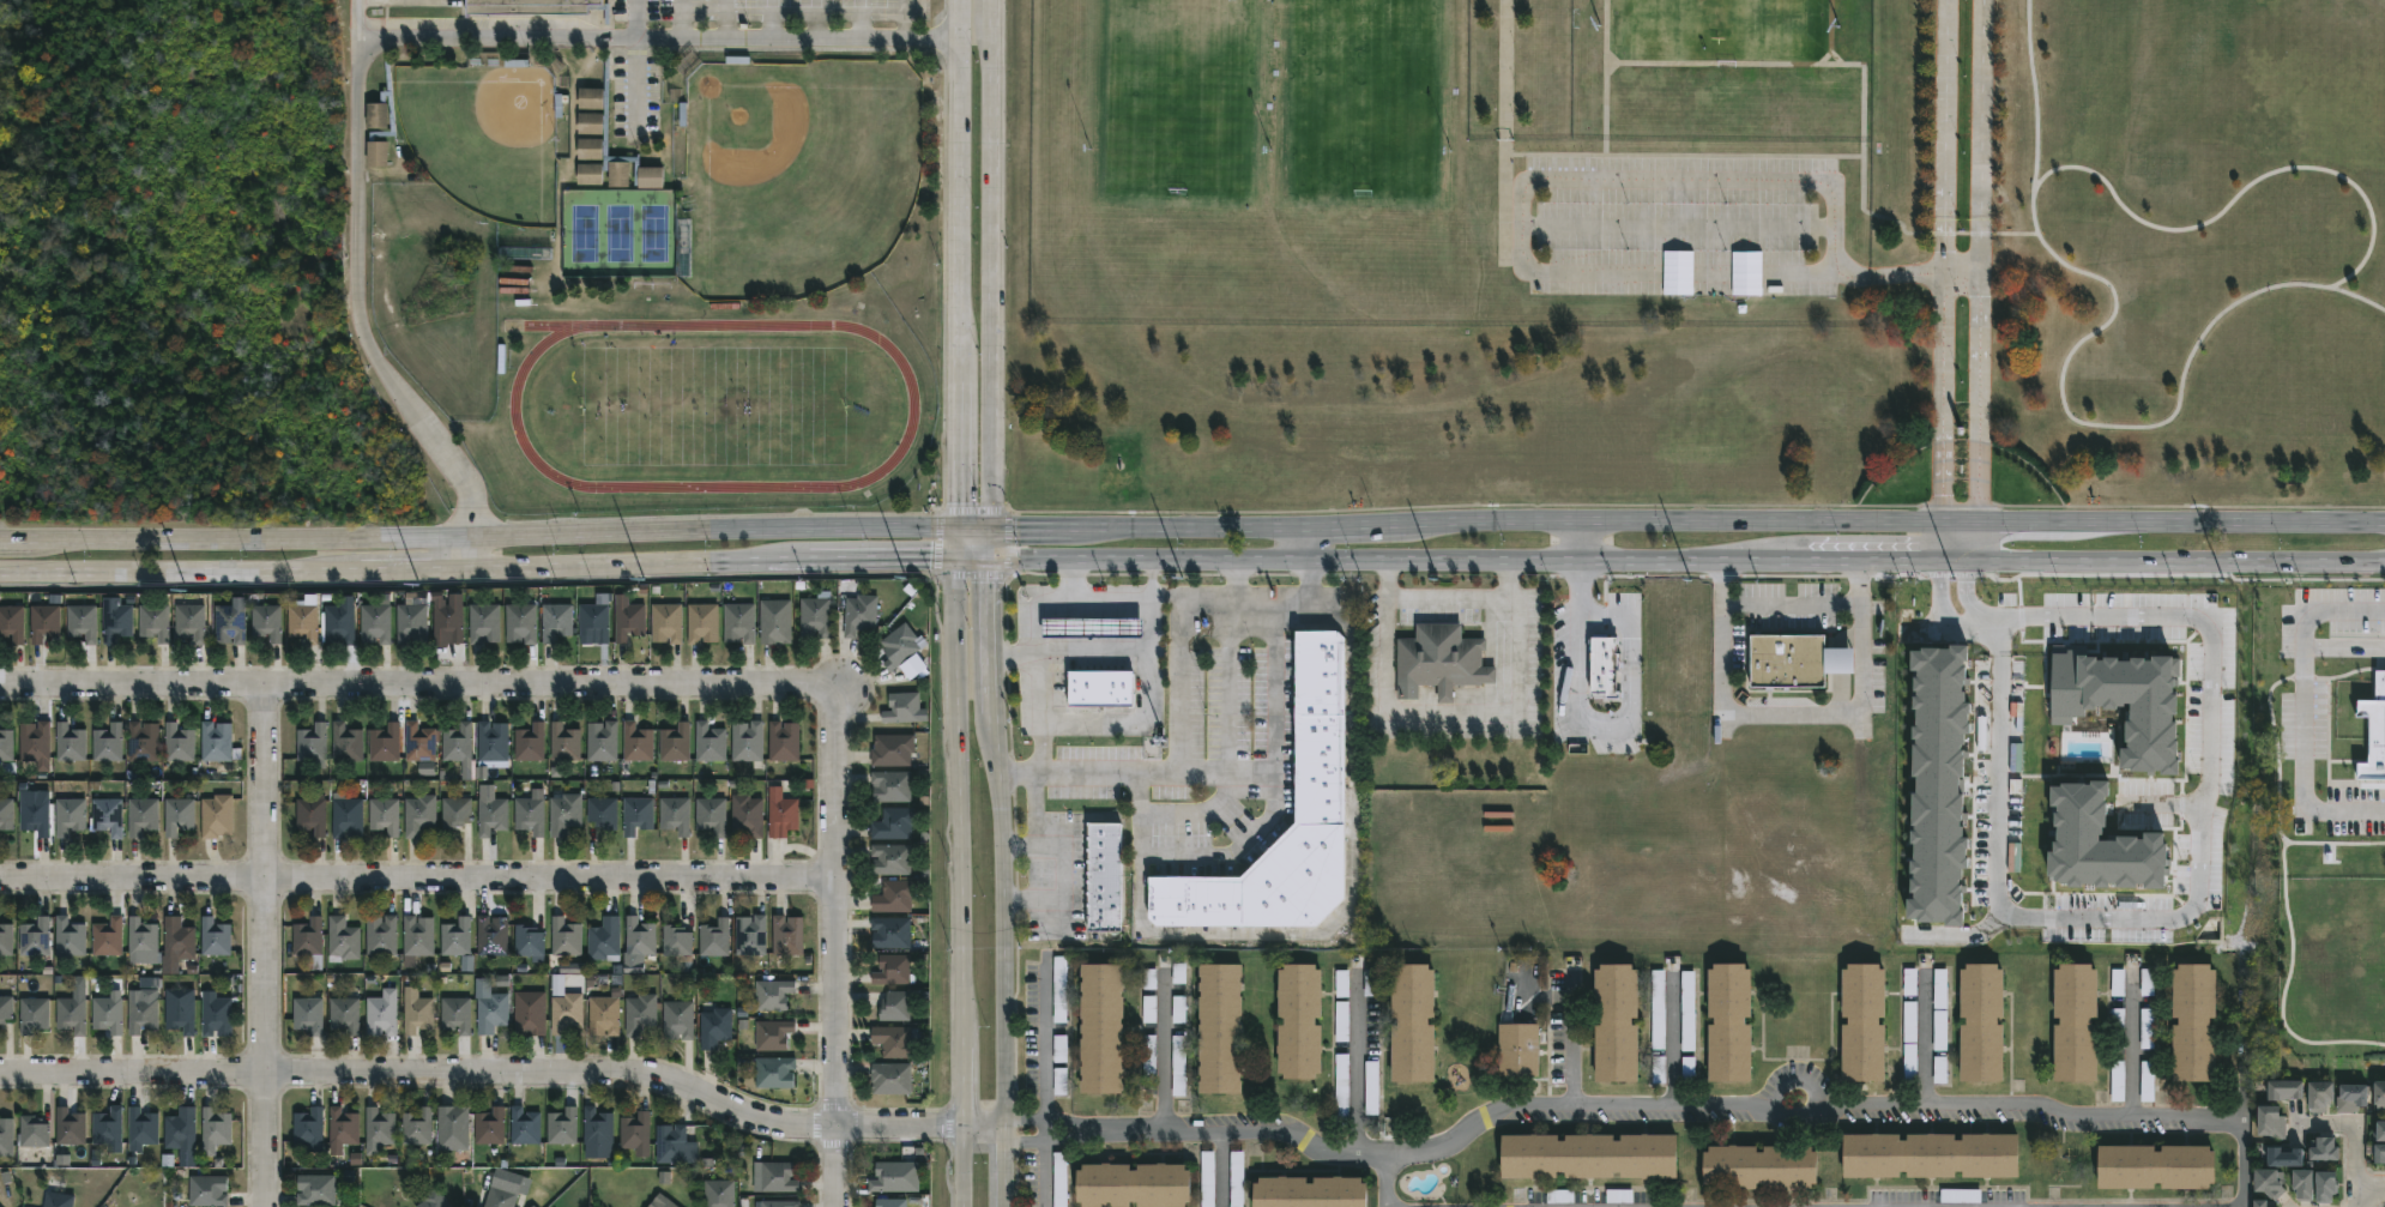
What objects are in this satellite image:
building: (535, 6)
parking lot: (774, 7)
road: (363, 16)
road: (642, 17)
road: (689, 17)
road: (736, 17)
road: (779, 18)
road: (817, 18)
road: (864, 18)
road: (908, 18)
park: (1717, 25)
road: (376, 32)
road: (1837, 59)
road: (1719, 65)
road: (1612, 70)
road: (1605, 95)
park: (1359, 96)
park: (1182, 97)
building: (591, 99)
building: (376, 121)
building: (590, 125)
road: (1504, 126)
park: (485, 137)
road: (2036, 144)
road: (1605, 145)
building: (376, 156)
road: (1849, 156)
building: (612, 170)
park: (797, 173)
road: (1861, 177)
road: (1716, 180)
road: (2238, 195)
parking lot: (1679, 223)
road: (1669, 225)
park: (620, 233)
road: (958, 262)
road: (989, 262)
road: (1739, 276)
road: (1943, 279)
road: (1979, 279)
park: (712, 410)
road: (2142, 428)
track: (874, 476)
road: (1696, 503)
road: (973, 509)
road: (1685, 519)
traffic signals: (956, 526)
road: (972, 526)
traffic signals: (988, 526)
road: (478, 535)
road: (1578, 538)
road: (935, 541)
road: (956, 542)
road: (988, 542)
road: (1006, 542)
road: (1305, 542)
traffic signals: (956, 557)
road: (972, 557)
traffic signals: (989, 557)
road: (1030, 557)
road: (1727, 559)
road: (478, 567)
road: (970, 574)
road: (1580, 587)
road: (1129, 595)
road: (1978, 596)
road: (1257, 597)
road: (1949, 602)
road: (1051, 603)
road: (1792, 604)
road: (989, 605)
building: (815, 614)
building: (859, 614)
building: (412, 618)
building: (303, 620)
building: (116, 621)
building: (153, 621)
building: (339, 621)
building: (375, 621)
building: (448, 621)
building: (556, 621)
building: (594, 621)
building: (629, 621)
building: (775, 621)
building: (12, 622)
building: (44, 622)
building: (81, 622)
building: (191, 622)
building: (266, 622)
building: (484, 622)
building: (666, 622)
building: (701, 622)
building: (738, 622)
building: (228, 623)
building: (520, 623)
building: (1093, 626)
gas station: (1093, 626)
road: (1387, 630)
building: (899, 645)
road: (1111, 648)
building: (1799, 659)
building: (1442, 660)
road: (417, 686)
road: (989, 686)
building: (1100, 688)
road: (1521, 700)
building: (901, 707)
road: (2312, 708)
road: (1039, 711)
road: (1791, 716)
road: (1628, 718)
road: (1128, 720)
building: (1321, 729)
building: (602, 740)
building: (783, 740)
building: (34, 741)
building: (143, 741)
building: (216, 741)
building: (493, 741)
building: (710, 741)
building: (747, 741)
road: (1227, 741)
building: (70, 742)
building: (179, 742)
building: (346, 742)
building: (418, 742)
building: (529, 742)
building: (563, 742)
building: (636, 742)
building: (675, 742)
building: (107, 743)
building: (313, 743)
building: (384, 743)
building: (6, 744)
building: (459, 744)
building: (892, 749)
road: (1228, 771)
road: (1068, 772)
building: (890, 785)
road: (1035, 808)
building: (455, 811)
building: (602, 811)
building: (6, 814)
building: (384, 814)
building: (418, 814)
building: (491, 814)
building: (531, 814)
building: (564, 814)
building: (636, 814)
building: (675, 814)
building: (32, 815)
building: (70, 815)
building: (108, 815)
building: (143, 815)
building: (179, 815)
building: (217, 815)
building: (310, 815)
building: (712, 815)
building: (747, 815)
building: (781, 815)
building: (346, 816)
building: (893, 823)
road: (1161, 852)
building: (890, 858)
road: (1061, 868)
building: (1097, 876)
road: (418, 877)
road: (960, 882)
road: (2206, 893)
building: (896, 894)
building: (890, 931)
building: (751, 934)
building: (380, 935)
building: (491, 935)
building: (786, 935)
building: (108, 936)
building: (215, 936)
building: (308, 936)
building: (639, 936)
building: (35, 937)
building: (70, 937)
building: (566, 937)
building: (604, 937)
building: (6, 939)
building: (141, 939)
building: (179, 939)
building: (343, 939)
building: (417, 939)
building: (458, 940)
building: (675, 940)
building: (713, 941)
building: (529, 942)
road: (264, 946)
road: (837, 947)
road: (1006, 962)
building: (890, 968)
building: (1340, 985)
building: (1059, 989)
building: (772, 994)
road: (1548, 996)
building: (894, 1006)
building: (5, 1008)
building: (1940, 1009)
building: (564, 1010)
building: (416, 1012)
building: (108, 1013)
building: (180, 1013)
building: (381, 1013)
building: (491, 1013)
building: (529, 1013)
building: (639, 1013)
building: (32, 1014)
building: (71, 1014)
building: (143, 1014)
building: (307, 1014)
building: (344, 1014)
building: (457, 1014)
building: (603, 1015)
building: (216, 1016)
building: (676, 1020)
building: (1297, 1020)
building: (1411, 1021)
building: (1342, 1022)
building: (1614, 1022)
building: (1729, 1022)
building: (1862, 1022)
building: (1981, 1022)
building: (2076, 1022)
building: (2194, 1022)
building: (714, 1027)
building: (1099, 1027)
building: (1218, 1028)
building: (772, 1034)
building: (894, 1040)
road: (1574, 1040)
road: (1925, 1040)
road: (1672, 1043)
building: (1909, 1044)
road: (2131, 1046)
road: (1045, 1048)
road: (1165, 1050)
building: (1515, 1050)
road: (2245, 1052)
road: (1357, 1068)
building: (774, 1072)
road: (487, 1076)
building: (892, 1079)
building: (1341, 1086)
building: (1371, 1090)
building: (2288, 1090)
building: (2380, 1094)
building: (2323, 1096)
building: (2354, 1097)
road: (1816, 1108)
building: (2275, 1122)
building: (417, 1125)
building: (490, 1125)
building: (525, 1125)
building: (562, 1125)
building: (70, 1127)
building: (108, 1127)
building: (344, 1127)
building: (380, 1127)
building: (453, 1127)
building: (597, 1127)
building: (141, 1128)
building: (309, 1128)
road: (2356, 1128)
building: (181, 1129)
building: (215, 1129)
building: (636, 1130)
building: (32, 1131)
building: (2380, 1133)
road: (1173, 1134)
building: (6, 1137)
building: (675, 1146)
building: (2326, 1148)
building: (2380, 1153)
building: (1588, 1155)
building: (1931, 1155)
building: (2288, 1157)
building: (1759, 1166)
building: (2157, 1166)
road: (1045, 1169)
road: (1222, 1170)
building: (774, 1177)
building: (888, 1177)
building: (2272, 1182)
building: (2307, 1183)
building: (1131, 1185)
building: (2330, 1185)
road: (2371, 1188)
building: (315, 1189)
building: (207, 1190)
building: (1309, 1191)
building: (719, 1193)
building: (500, 1197)
road: (2357, 1197)
building: (56, 1199)
building: (433, 1199)
building: (892, 1202)
building: (666, 1203)
building: (779, 1203)
building: (2266, 1203)

